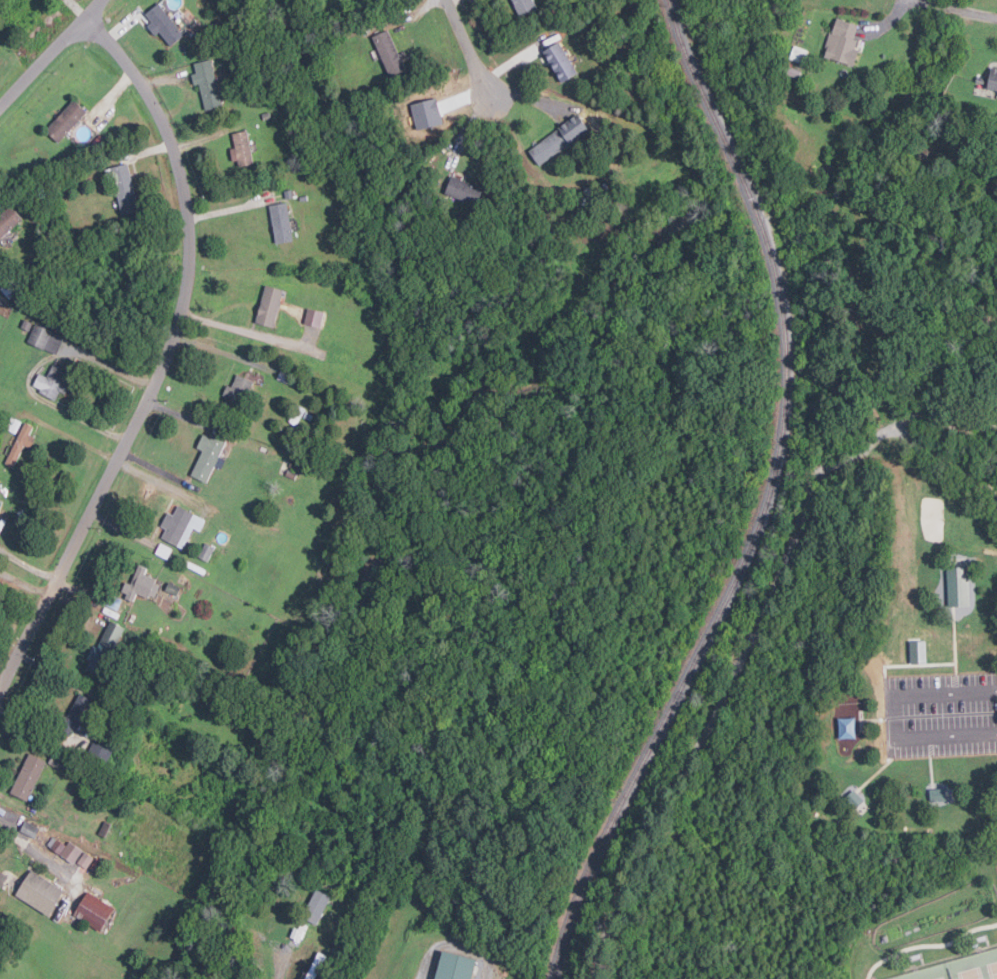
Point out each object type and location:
road: (926, 3)
building: (523, 6)
road: (949, 8)
road: (978, 14)
building: (163, 25)
building: (842, 42)
road: (469, 48)
road: (49, 52)
building: (798, 53)
building: (389, 54)
building: (560, 61)
building: (992, 79)
building: (206, 83)
building: (66, 120)
road: (466, 129)
building: (558, 139)
road: (938, 146)
building: (240, 148)
building: (124, 188)
building: (463, 190)
building: (8, 219)
building: (280, 222)
road: (915, 222)
road: (956, 234)
road: (945, 280)
building: (269, 305)
building: (313, 317)
building: (46, 339)
road: (165, 354)
road: (34, 370)
building: (52, 381)
building: (236, 391)
building: (20, 443)
building: (208, 456)
building: (0, 486)
railway: (767, 501)
park: (934, 518)
building: (180, 526)
road: (972, 547)
road: (28, 565)
building: (140, 585)
building: (957, 586)
park: (761, 625)
road: (751, 639)
building: (104, 647)
road: (956, 649)
building: (914, 654)
building: (77, 712)
parking lot: (939, 713)
road: (893, 717)
road: (878, 719)
building: (101, 748)
building: (57, 762)
road: (930, 763)
road: (882, 769)
building: (28, 776)
building: (937, 795)
building: (856, 802)
building: (29, 828)
building: (66, 849)
building: (85, 860)
building: (39, 892)
building: (316, 906)
building: (93, 911)
road: (929, 945)
park: (975, 965)
building: (455, 966)
park: (927, 973)

